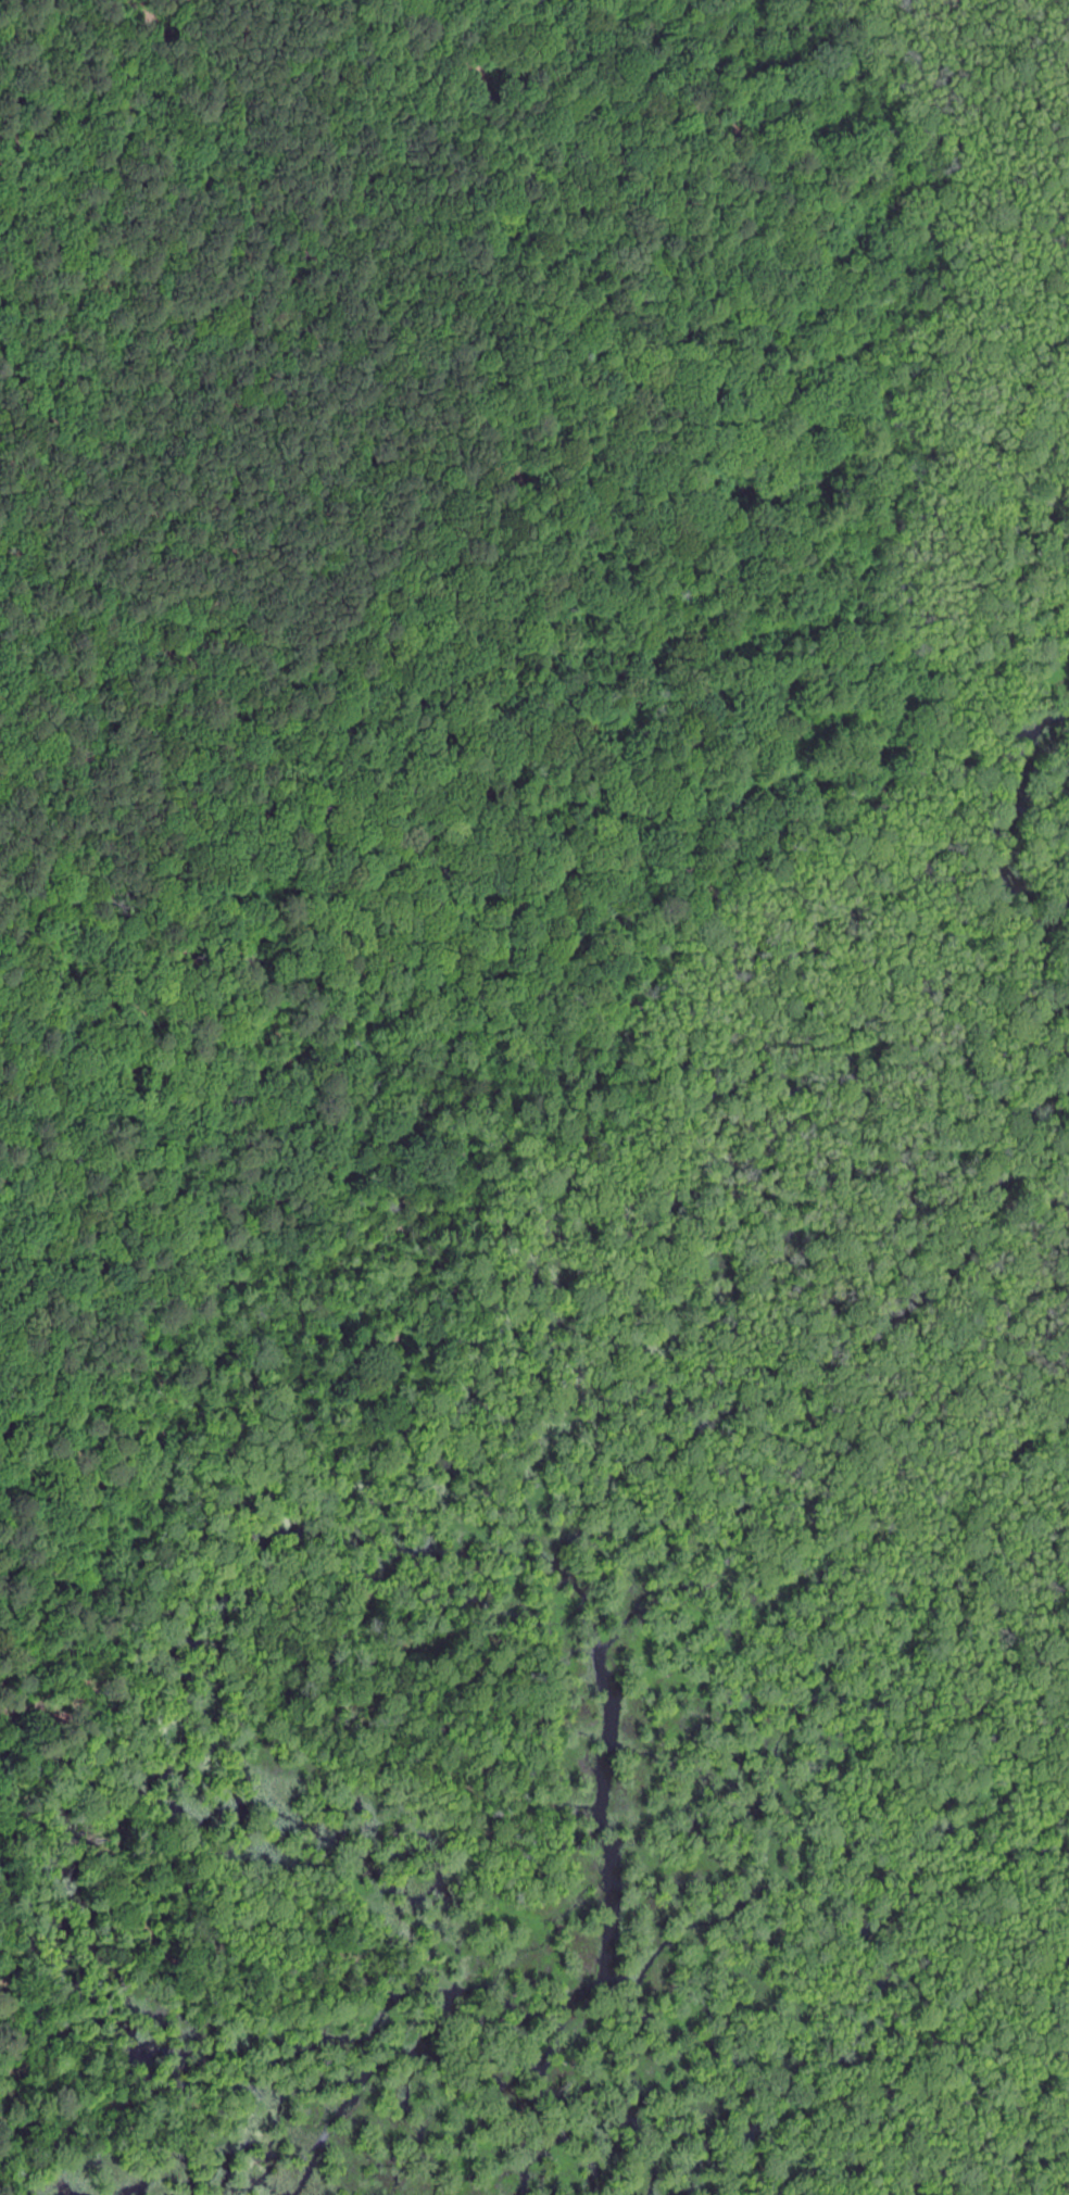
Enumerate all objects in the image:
road: (845, 715)
park: (534, 1097)

